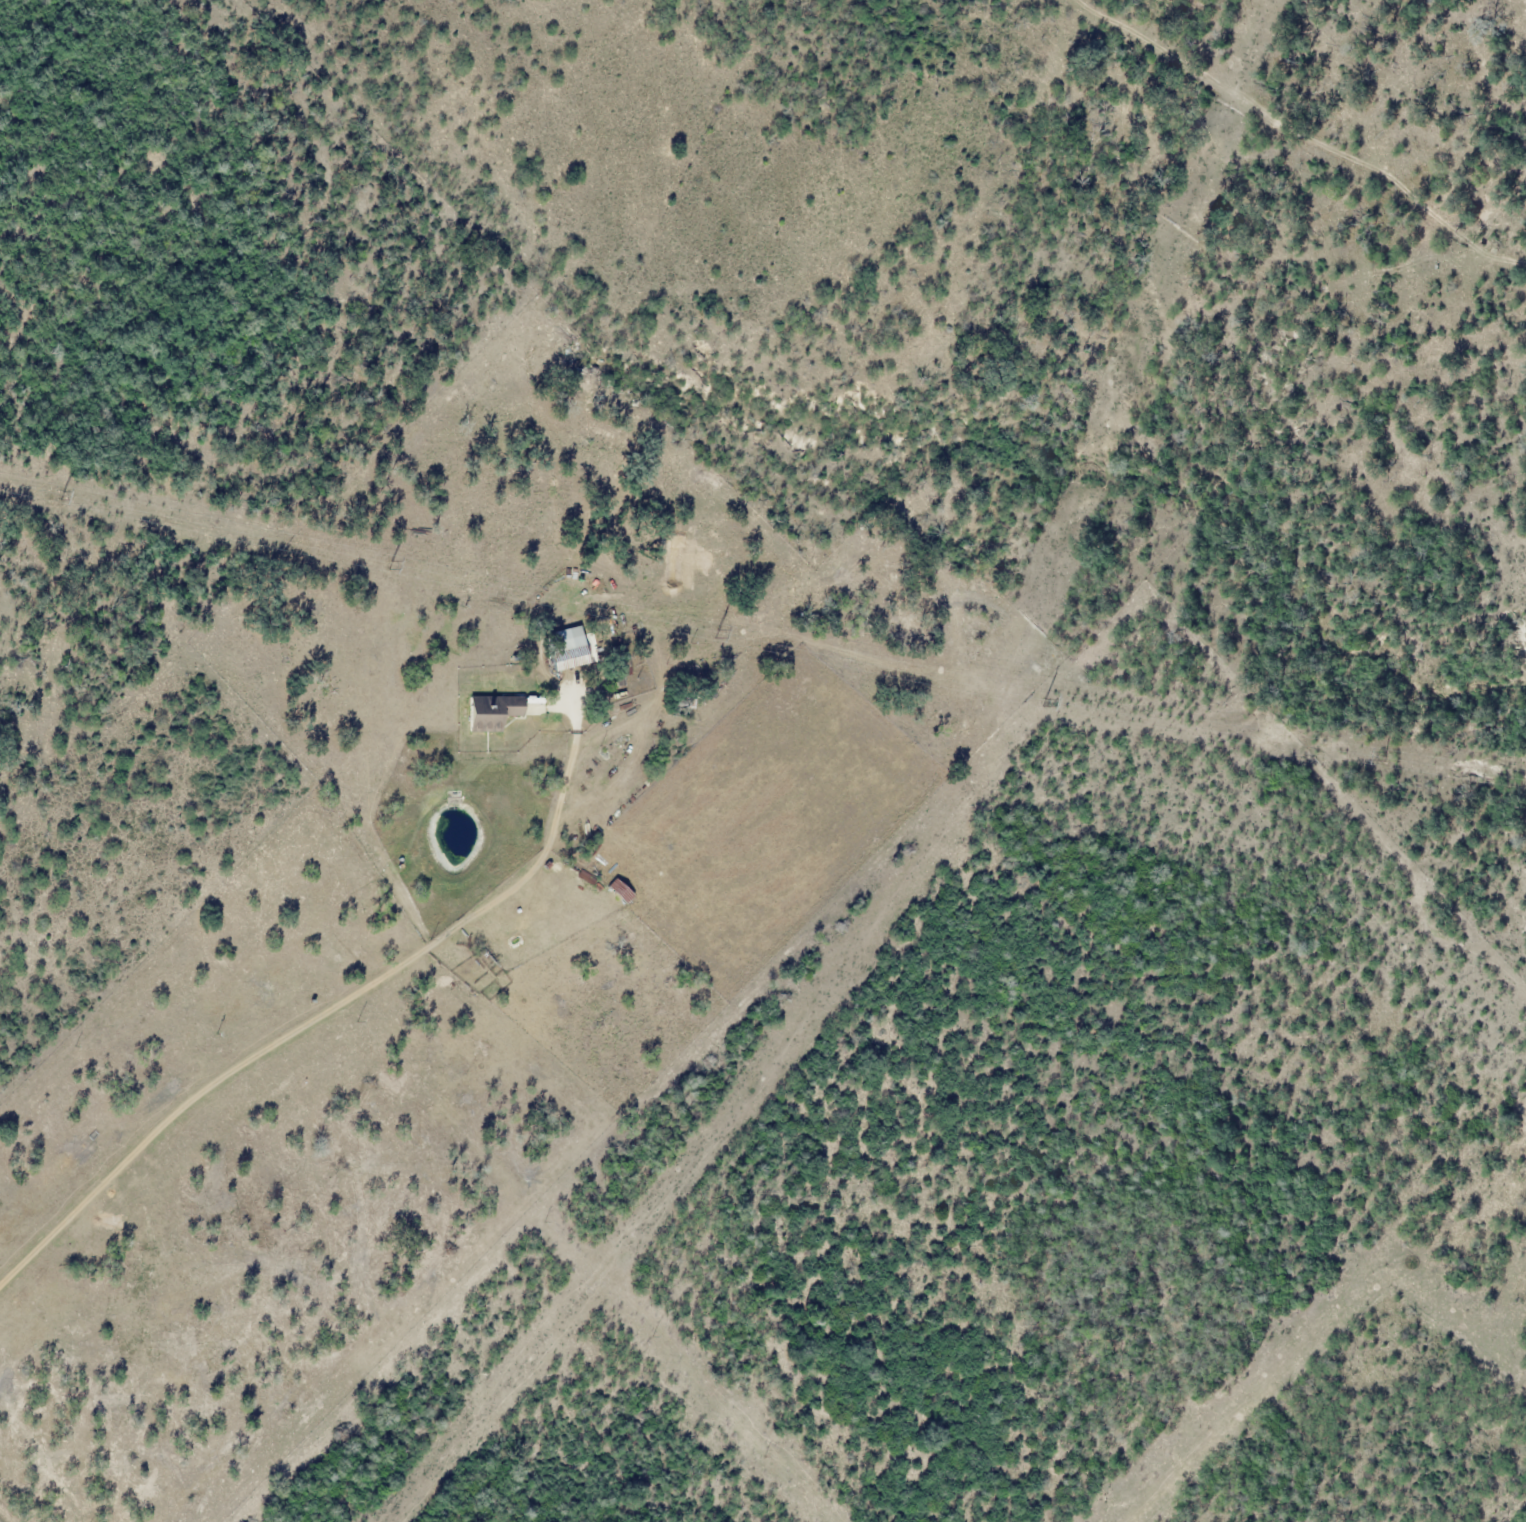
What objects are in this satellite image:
road: (1303, 138)
power tower: (64, 492)
power tower: (388, 563)
power tower: (717, 633)
building: (568, 648)
power tower: (1044, 700)
building: (494, 711)
power tower: (1385, 755)
building: (621, 890)
road: (317, 1017)

